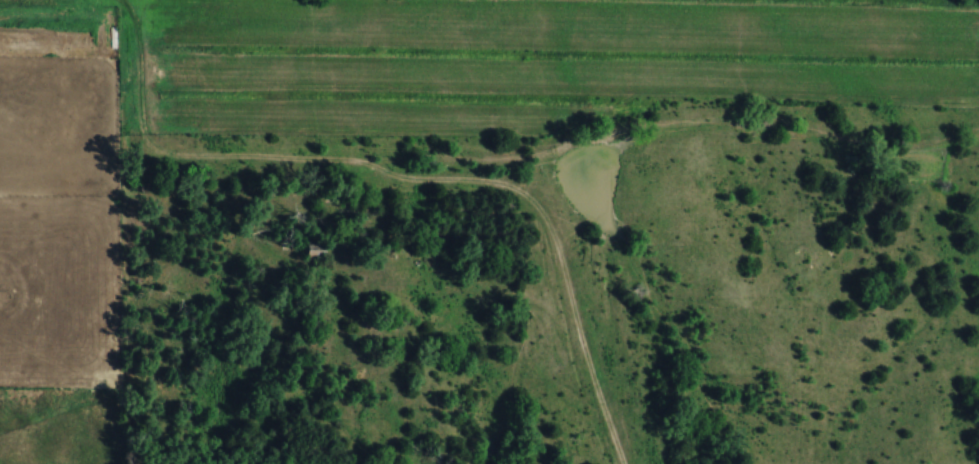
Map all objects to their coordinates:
building: (308, 249)

